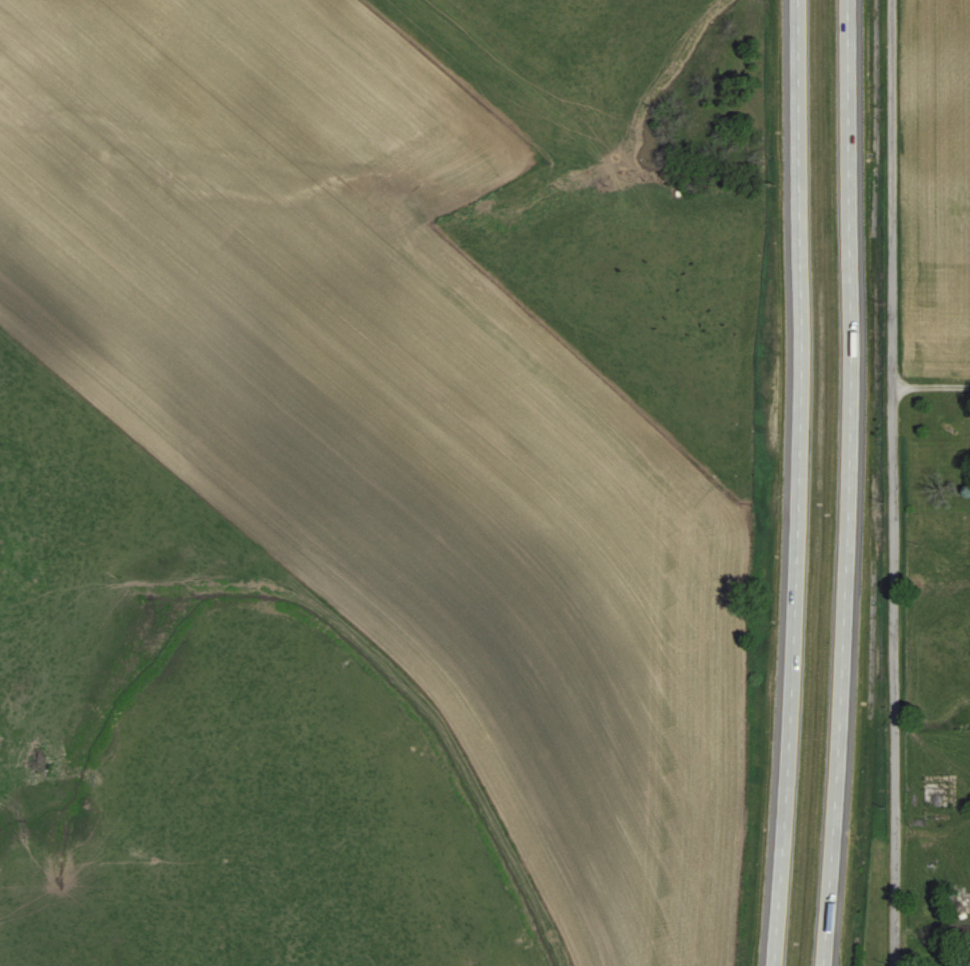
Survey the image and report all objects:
road: (931, 387)
road: (892, 482)
road: (794, 483)
road: (847, 483)
building: (932, 794)
building: (956, 902)

